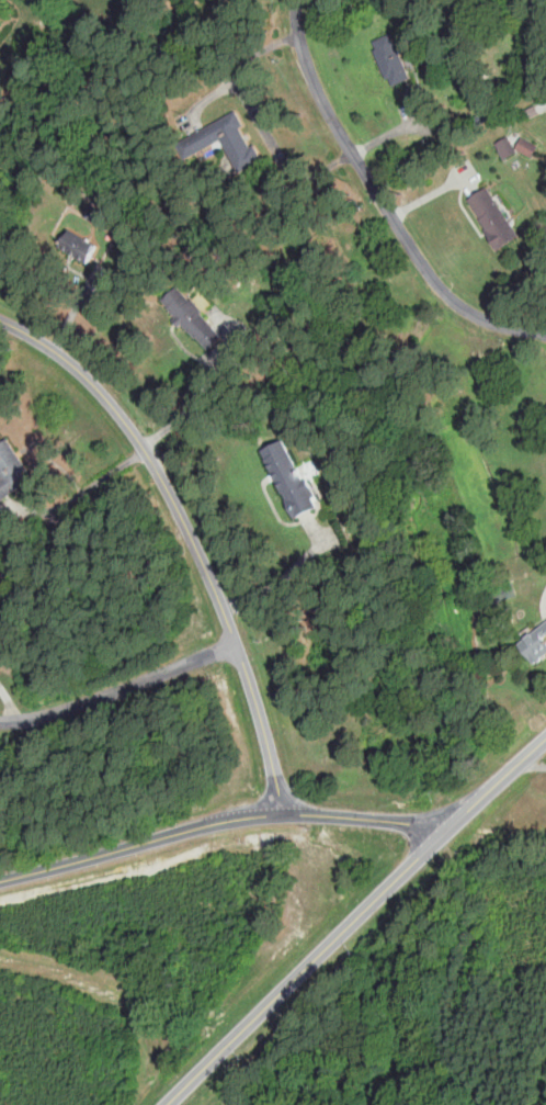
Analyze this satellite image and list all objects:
building: (390, 60)
road: (258, 119)
building: (225, 142)
building: (505, 147)
road: (383, 202)
building: (93, 213)
building: (492, 217)
building: (73, 245)
building: (190, 317)
road: (187, 408)
building: (10, 470)
building: (286, 477)
road: (79, 489)
road: (189, 534)
building: (534, 645)
road: (118, 690)
road: (8, 702)
road: (534, 763)
road: (221, 822)
road: (373, 902)
road: (182, 1086)

